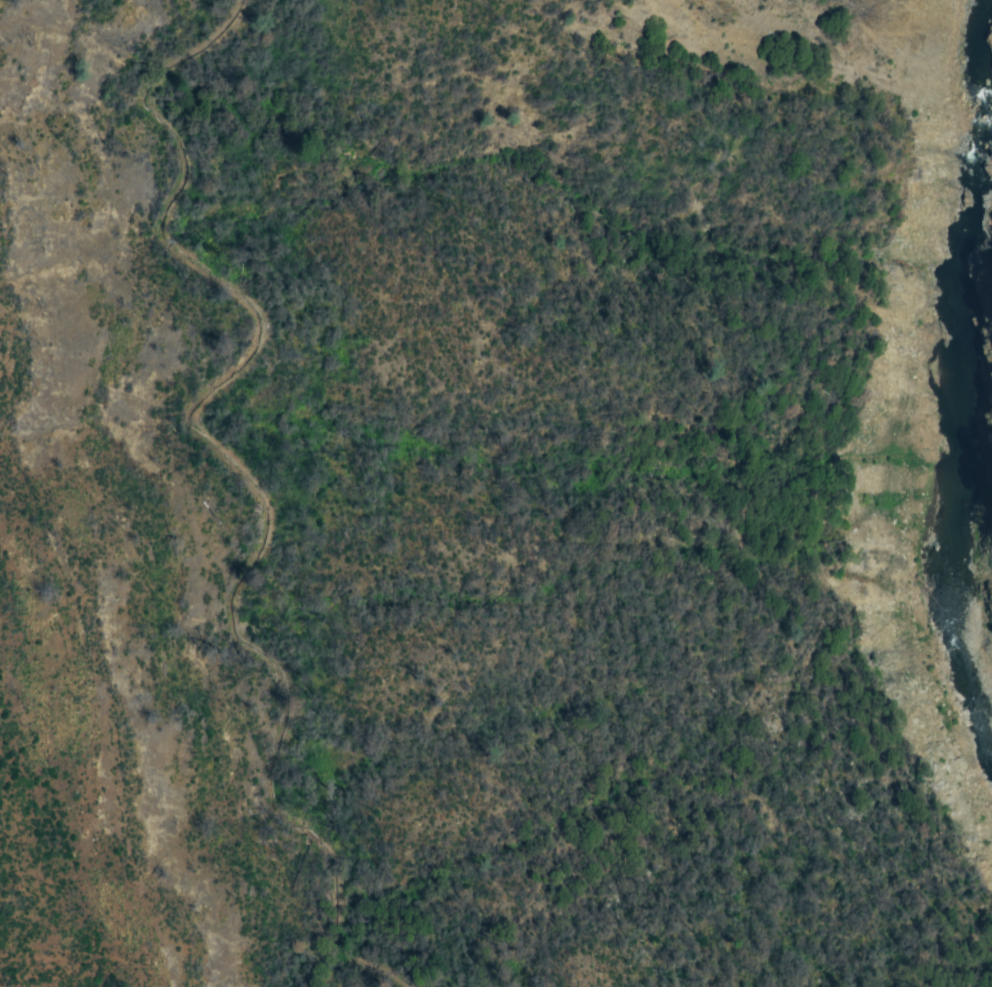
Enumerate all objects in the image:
river: (925, 387)

